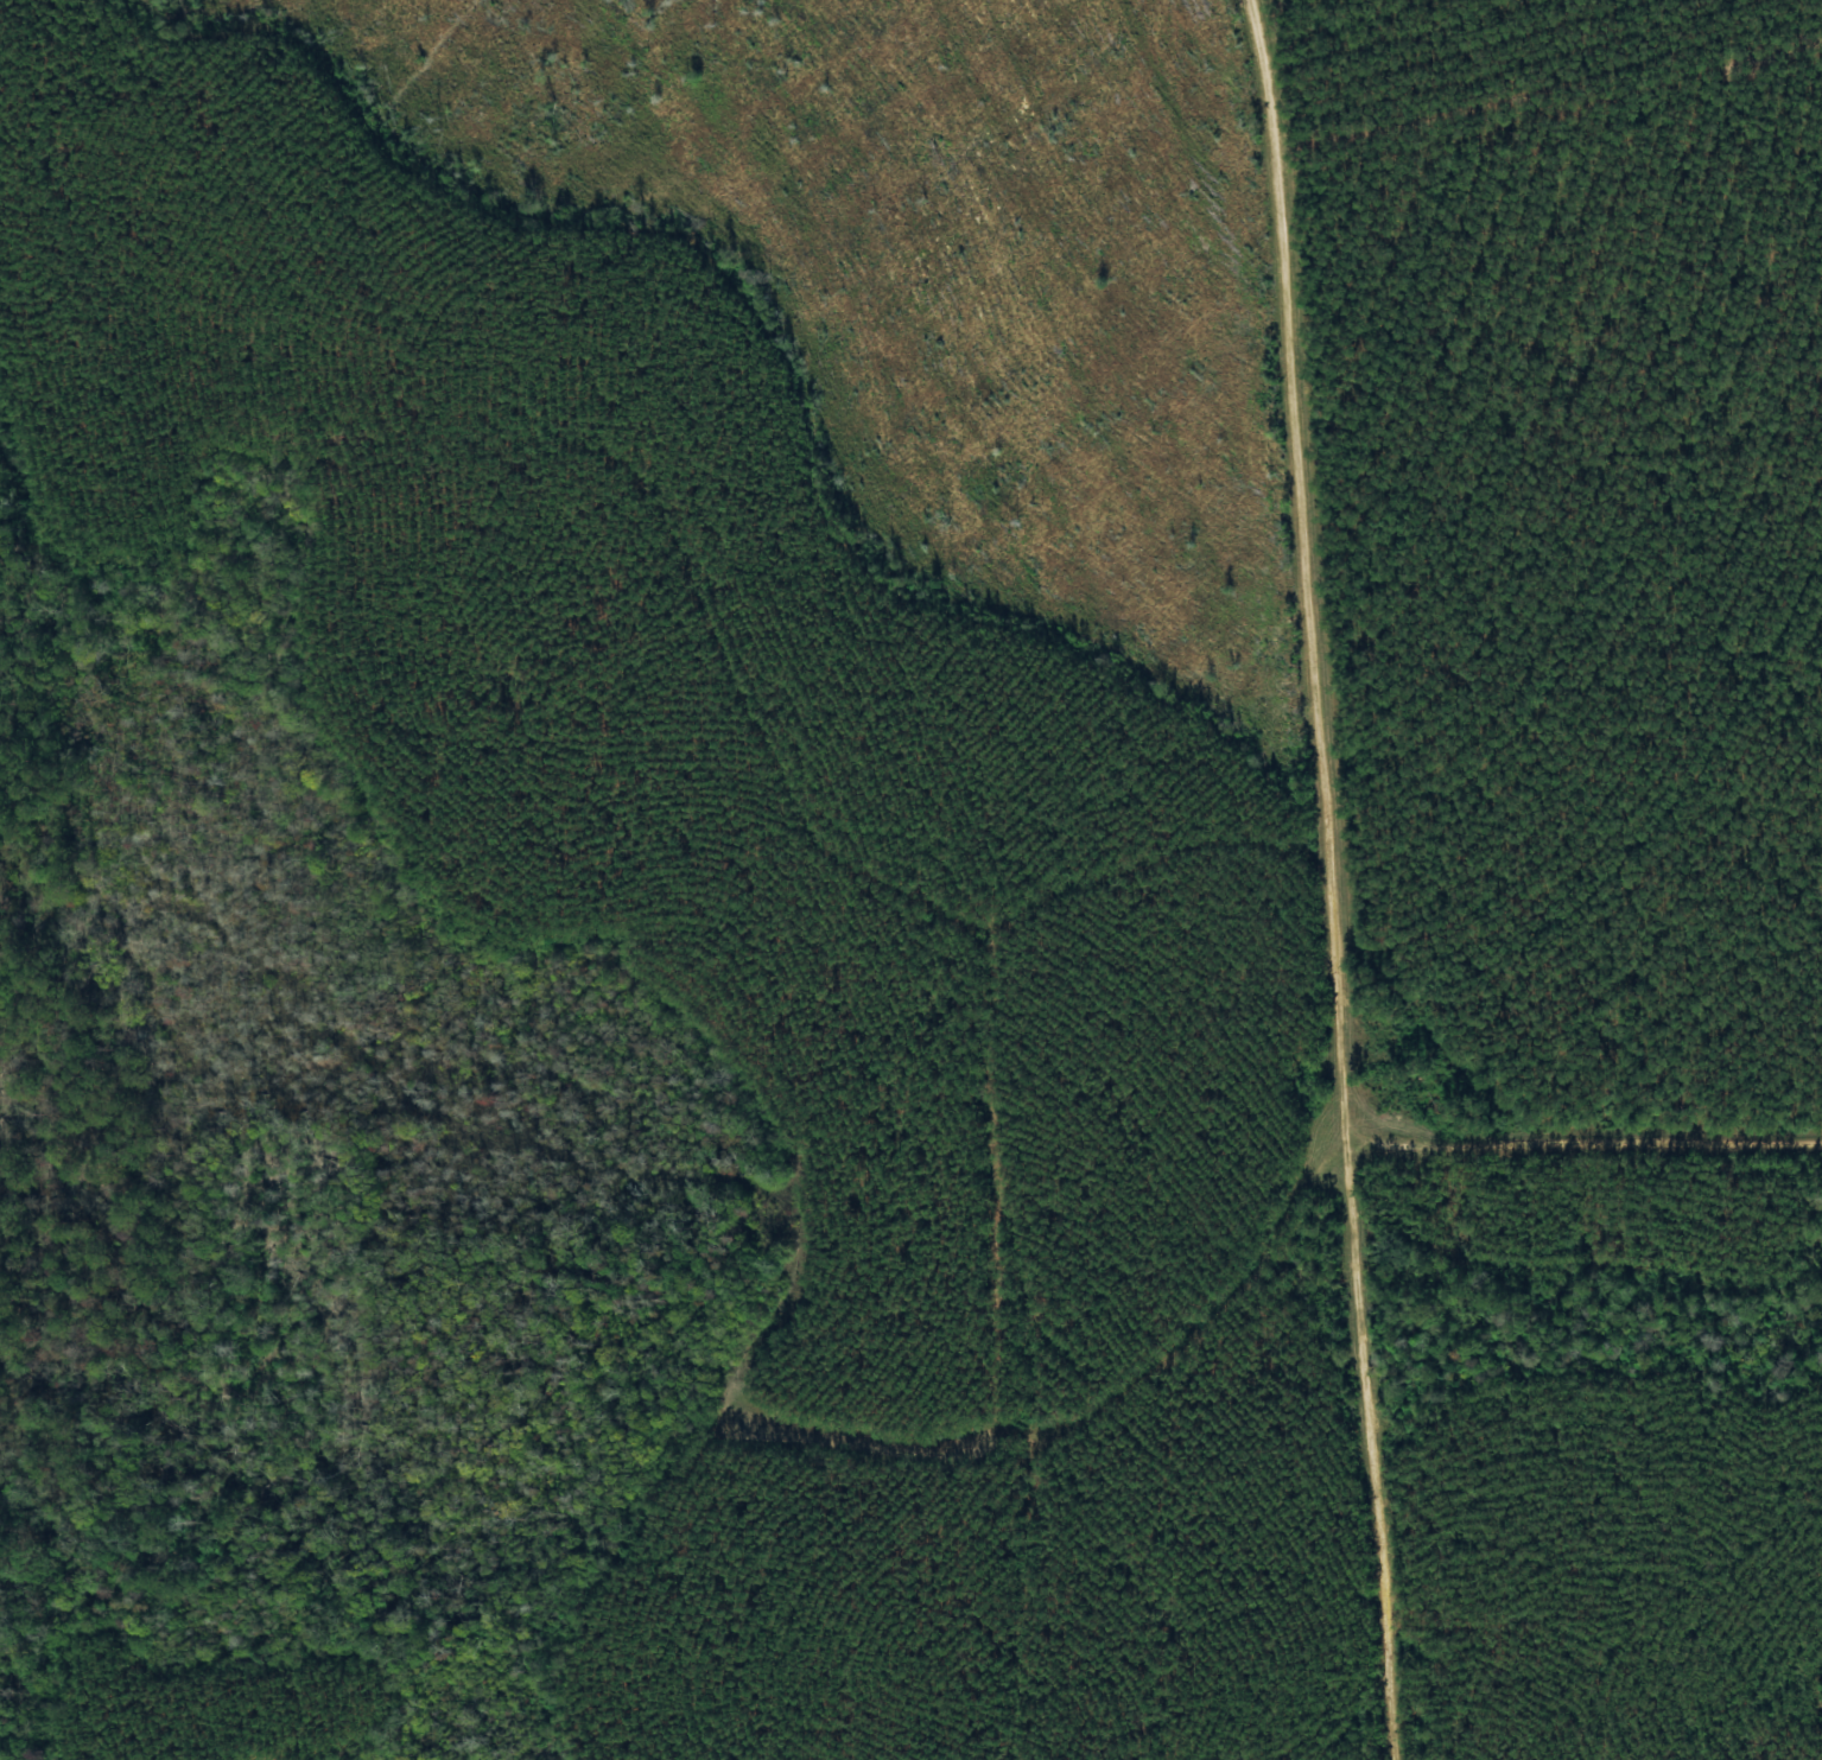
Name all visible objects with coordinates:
road: (947, 400)
road: (1332, 876)

